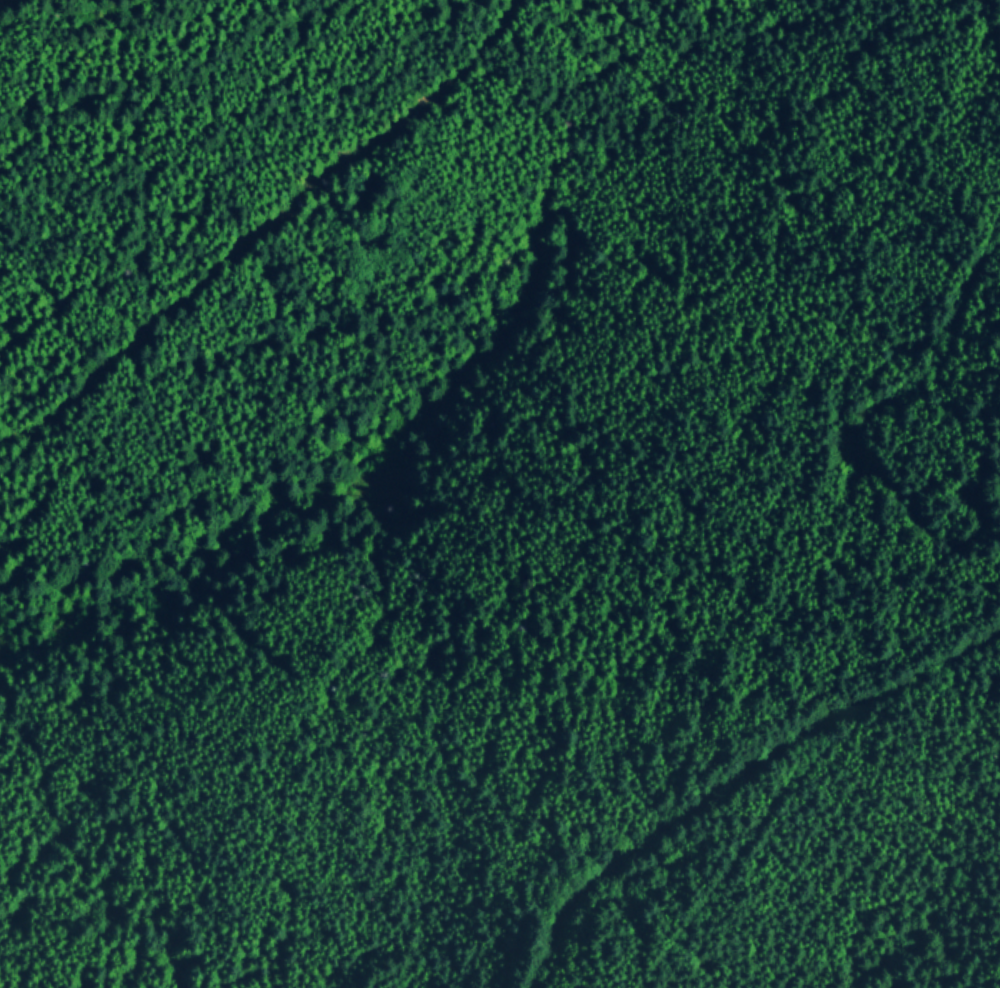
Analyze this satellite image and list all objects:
road: (737, 780)

